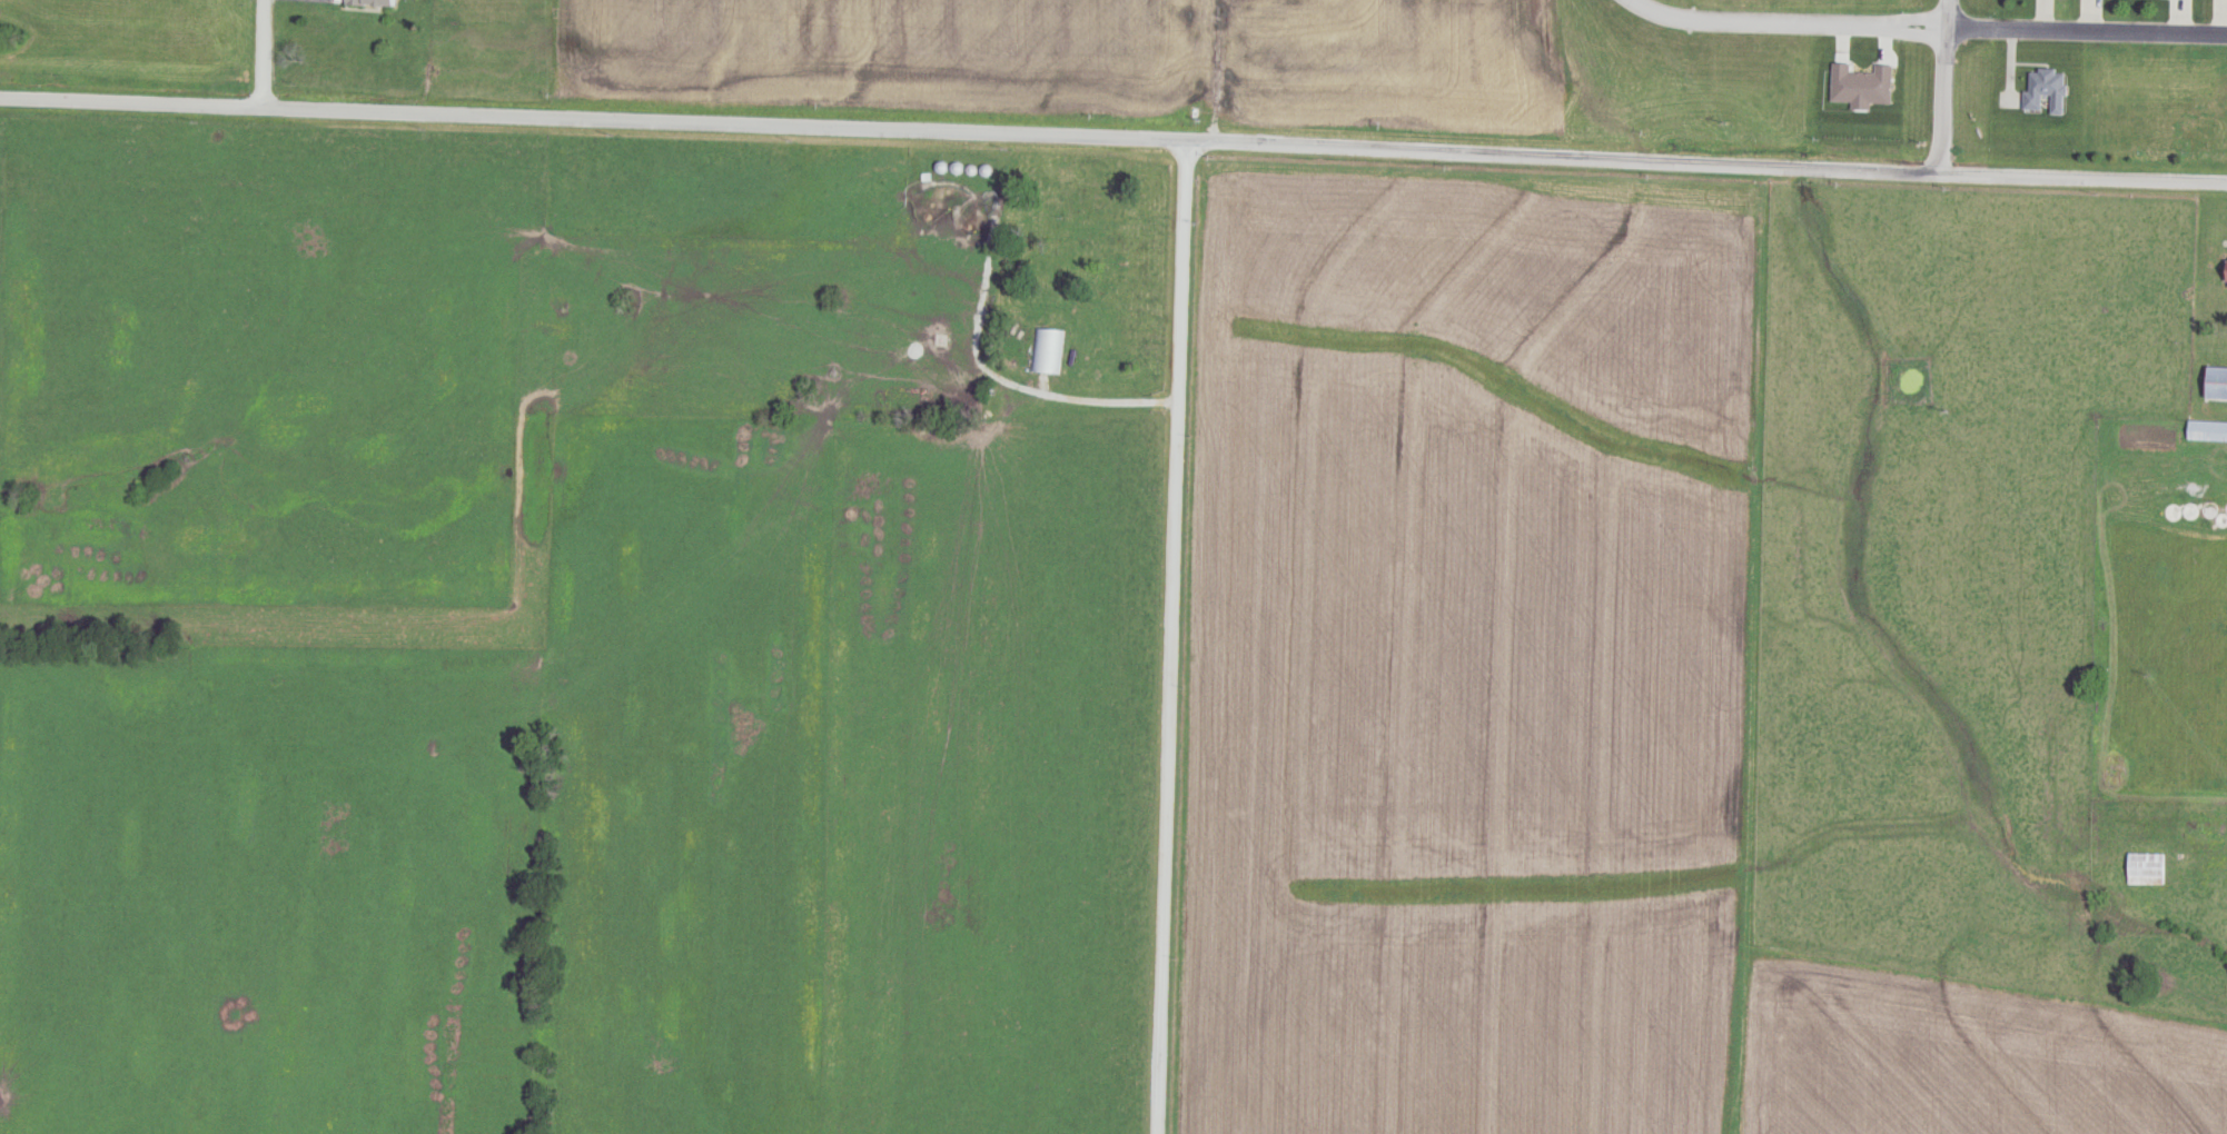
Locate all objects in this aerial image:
building: (374, 2)
road: (1775, 33)
road: (2086, 40)
road: (253, 60)
crop: (1085, 63)
building: (2046, 89)
road: (1940, 94)
road: (1112, 166)
building: (2226, 278)
building: (1049, 350)
building: (2215, 382)
building: (2207, 430)
building: (2226, 509)
crop: (1467, 648)
road: (1155, 651)
building: (2146, 868)
crop: (1960, 1060)

